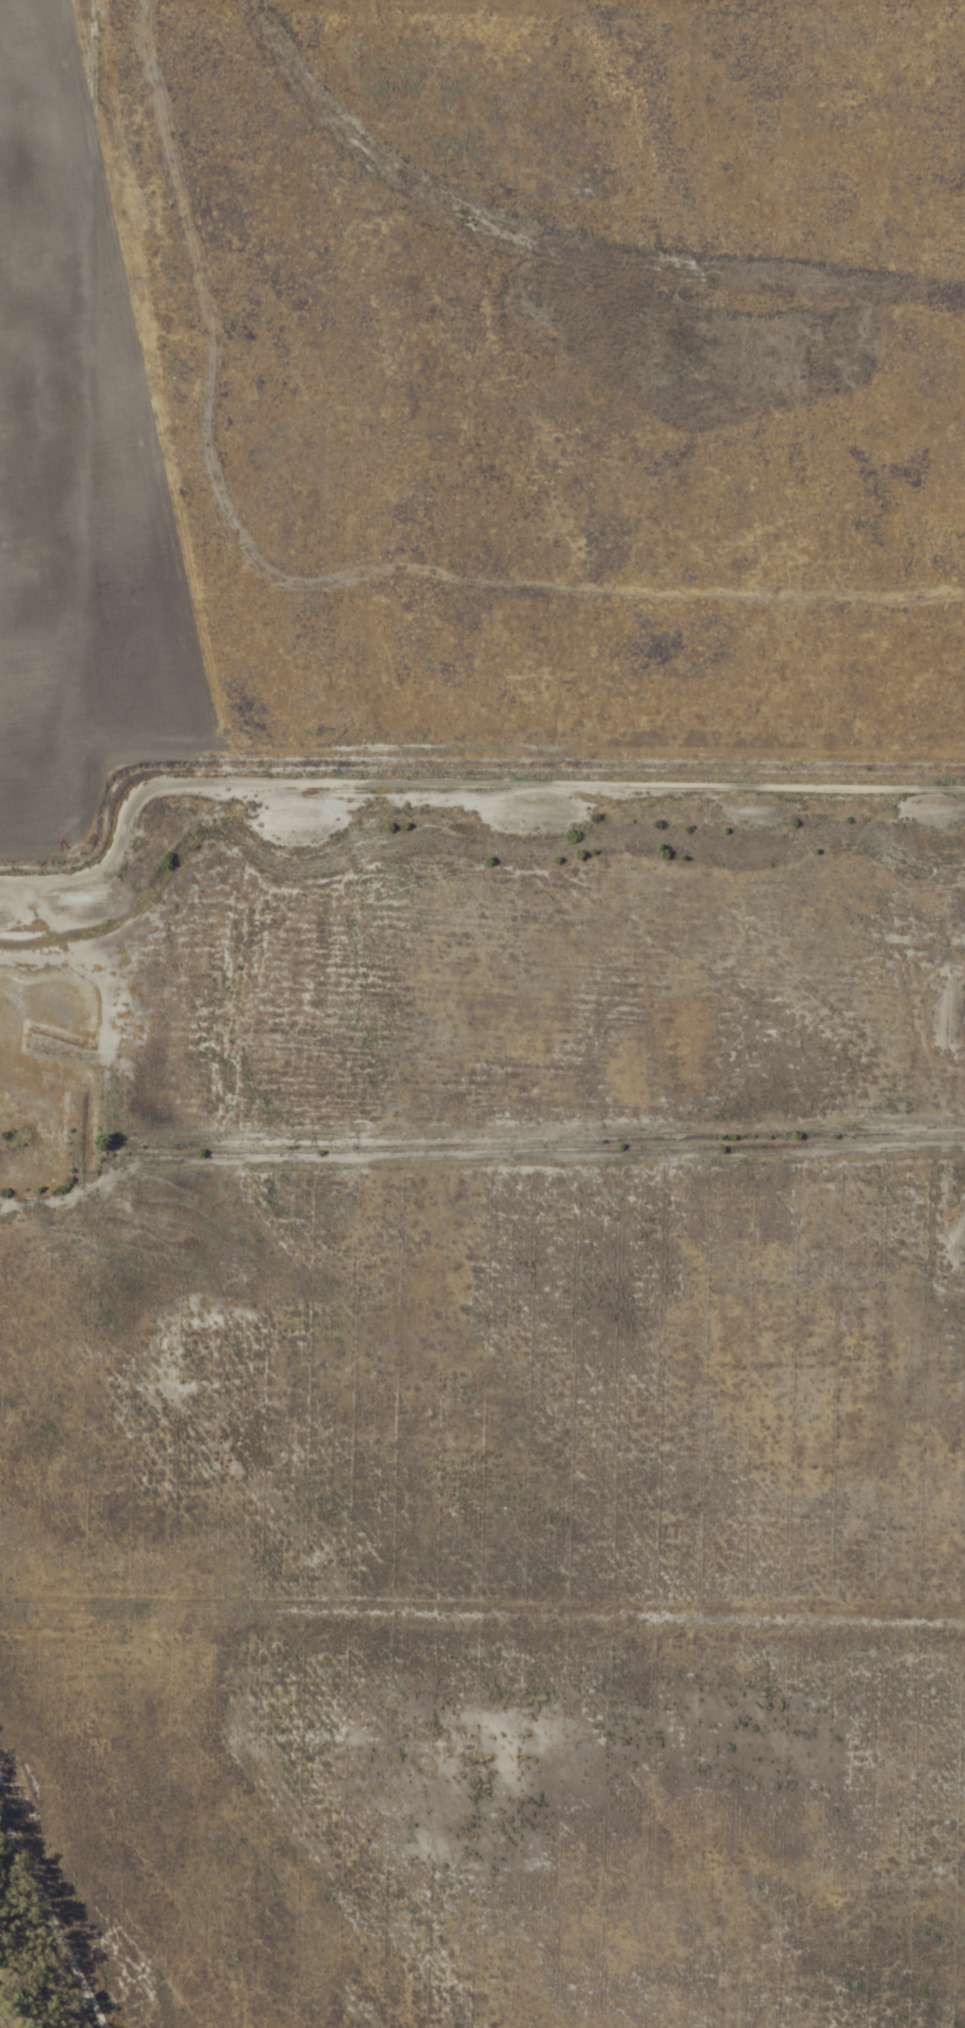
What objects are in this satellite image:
crop: (482, 1014)

